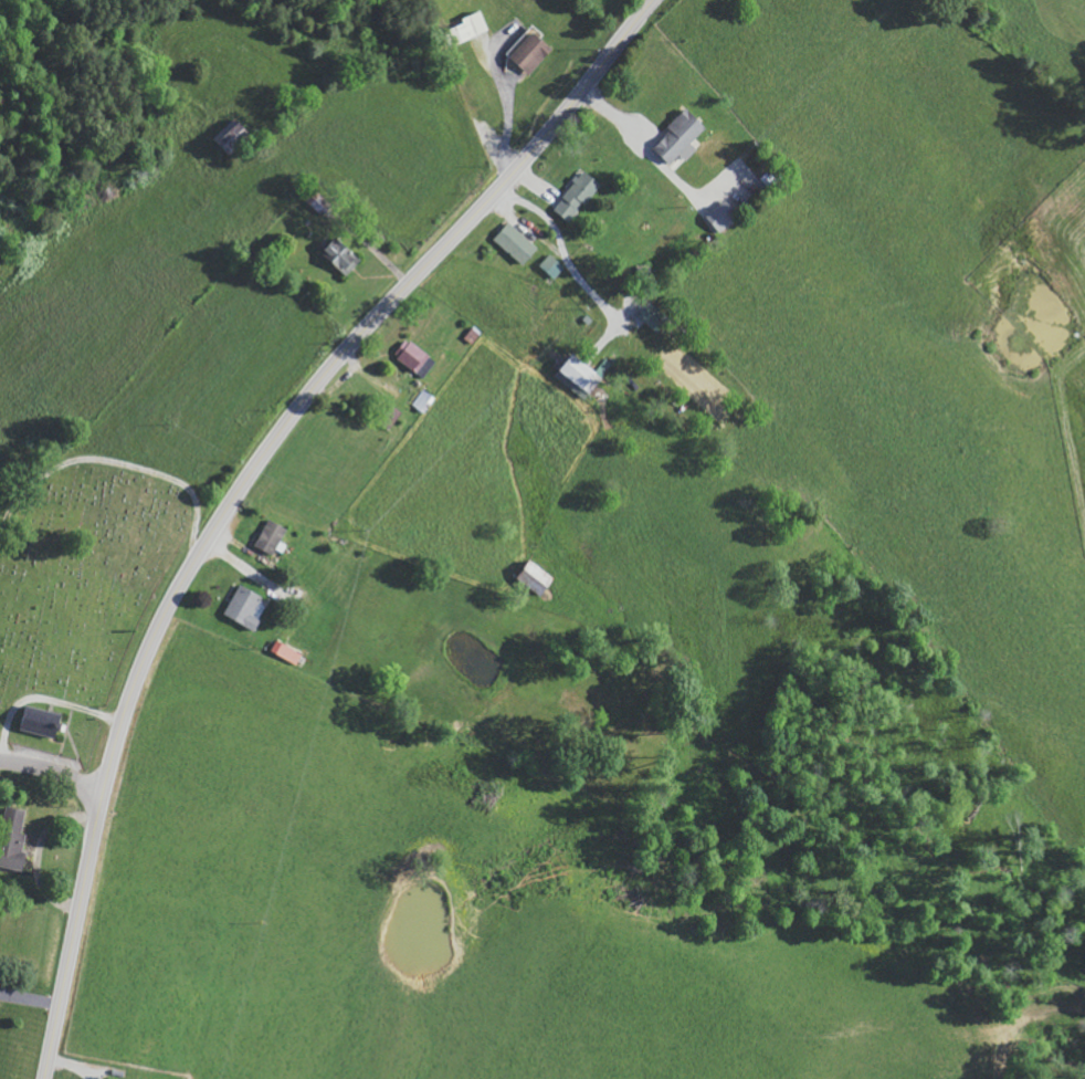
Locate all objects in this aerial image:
building: (472, 27)
building: (533, 51)
building: (234, 135)
building: (681, 135)
building: (578, 196)
building: (723, 216)
building: (517, 243)
building: (344, 255)
building: (554, 265)
building: (656, 316)
building: (417, 357)
building: (583, 375)
building: (423, 400)
road: (243, 483)
building: (272, 536)
building: (538, 577)
building: (245, 607)
building: (287, 652)
building: (44, 721)
road: (53, 768)
building: (15, 839)

